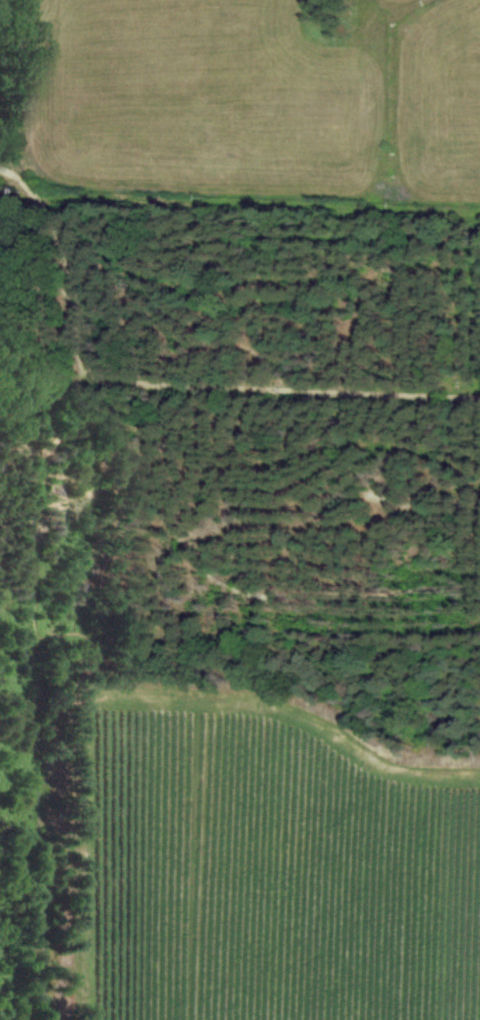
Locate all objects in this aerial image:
landfill: (245, 67)
road: (167, 306)
park: (239, 366)
road: (430, 383)
road: (163, 386)
road: (82, 457)
road: (355, 463)
road: (445, 467)
road: (230, 495)
road: (332, 544)
road: (20, 706)
road: (11, 787)
road: (22, 887)

